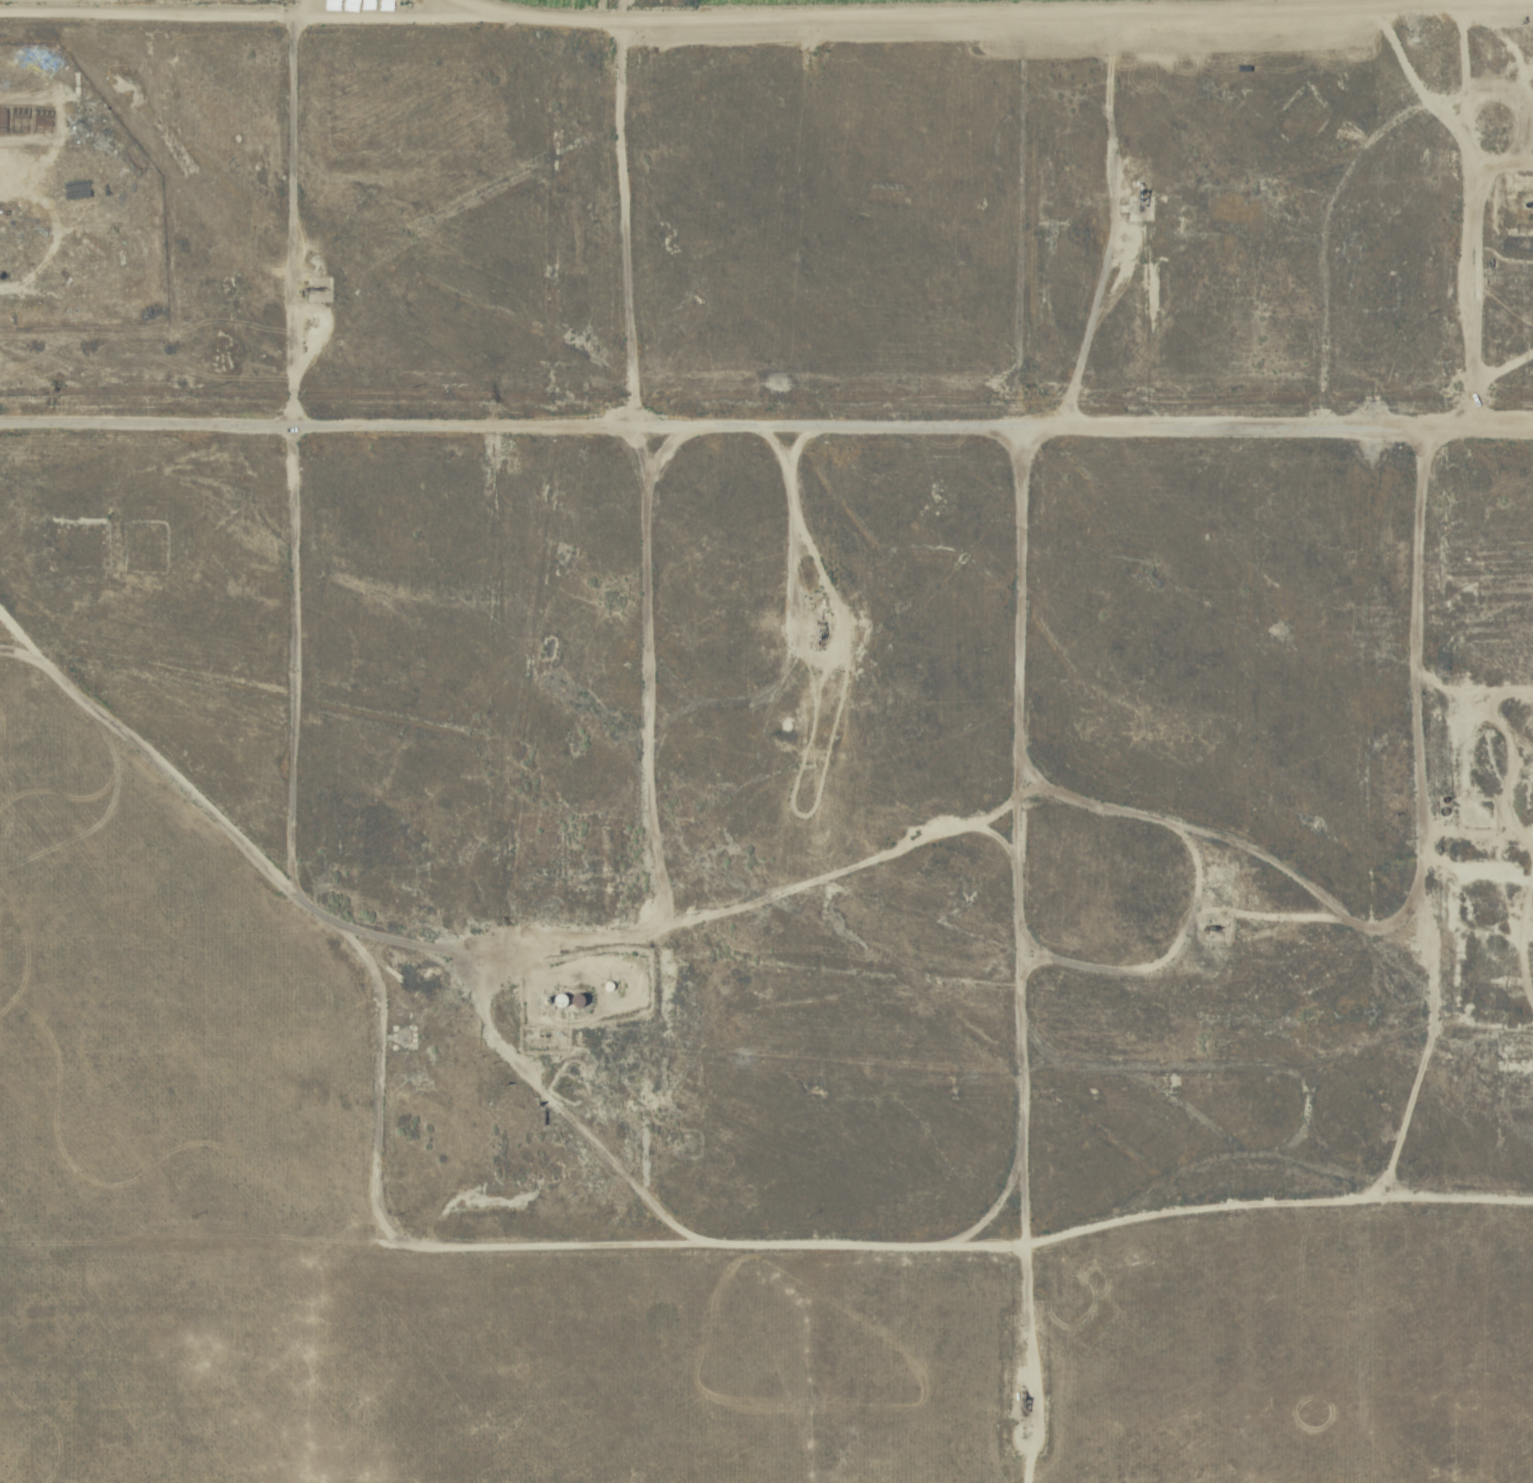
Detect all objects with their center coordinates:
road: (1370, 105)
road: (148, 422)
road: (914, 424)
road: (17, 633)
crop: (766, 741)
road: (156, 757)
road: (1277, 1202)
road: (476, 1245)
road: (1025, 1363)

